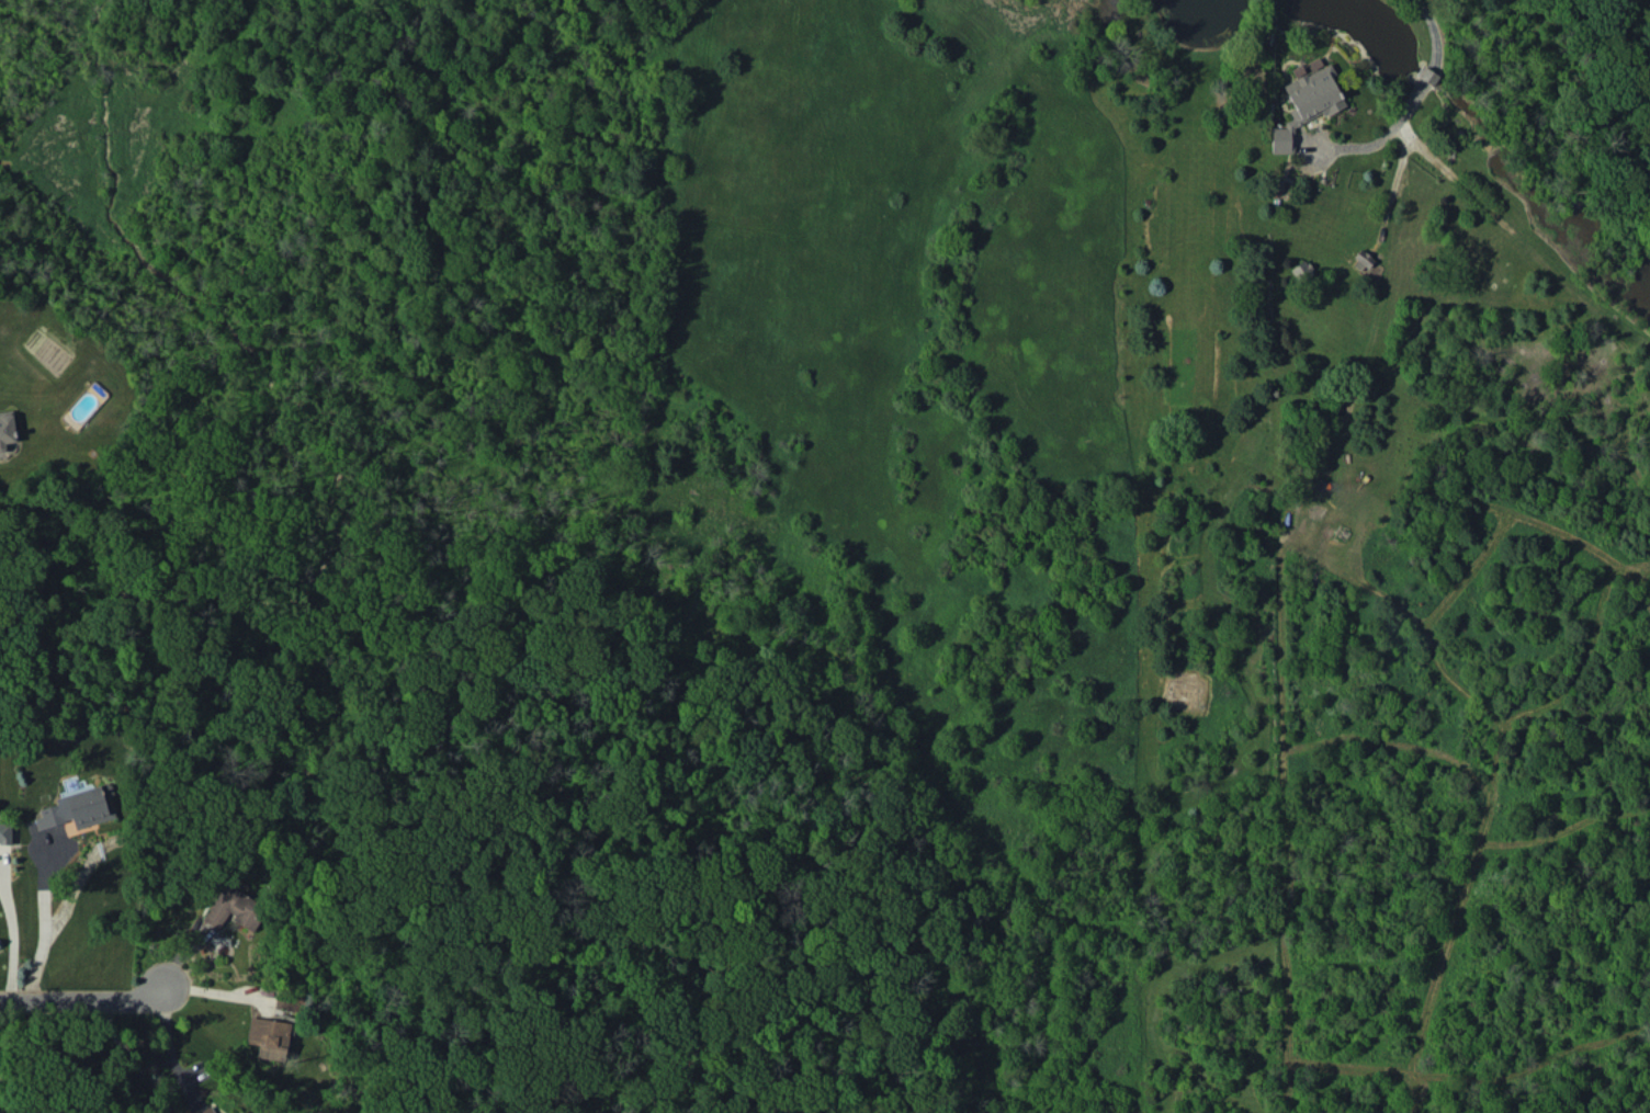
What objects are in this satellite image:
road: (1428, 26)
building: (1307, 101)
building: (1363, 260)
building: (7, 427)
building: (79, 809)
building: (5, 833)
building: (234, 909)
road: (33, 927)
road: (2, 947)
road: (81, 1000)
building: (269, 1037)
road: (169, 1048)
building: (206, 1110)
building: (241, 1112)

